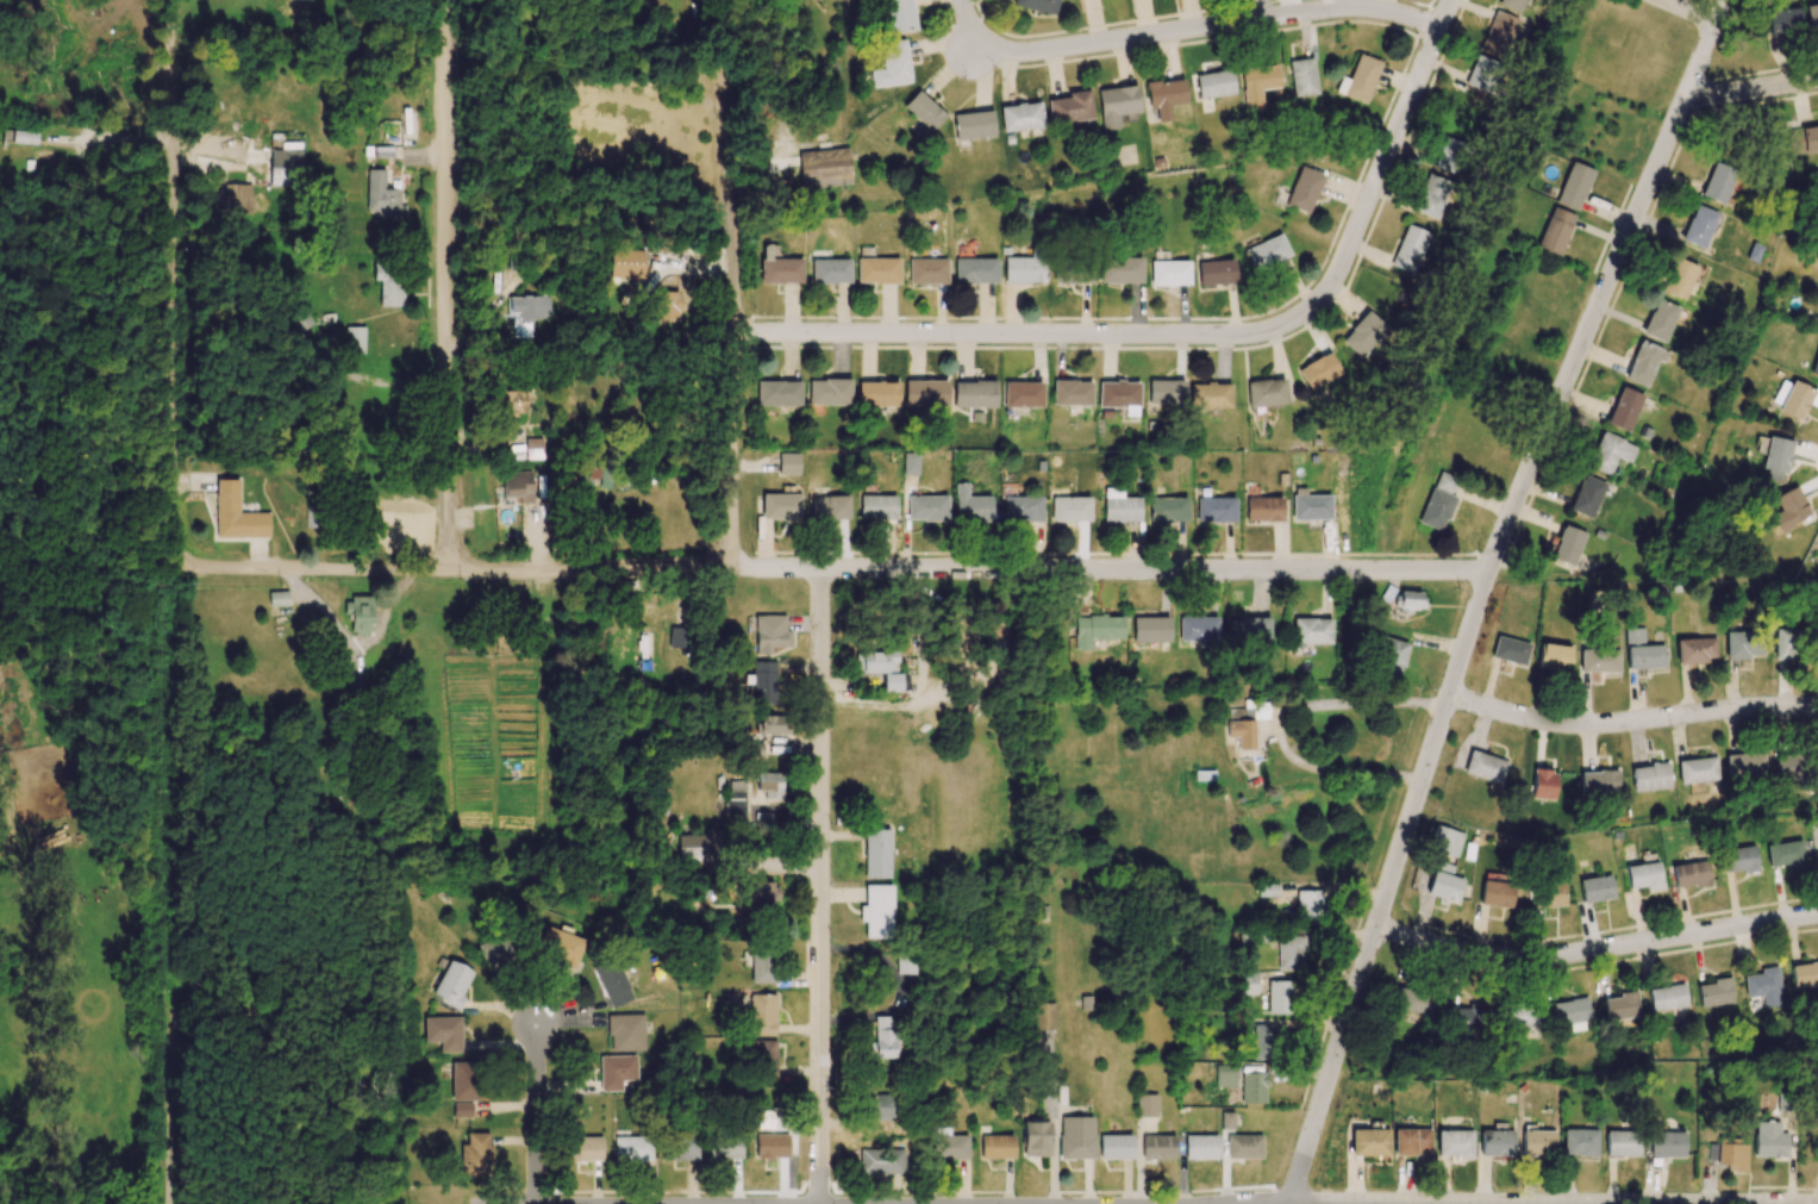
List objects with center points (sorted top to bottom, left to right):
building: (1037, 5)
building: (1511, 5)
road: (1691, 11)
building: (899, 15)
building: (1812, 17)
building: (1785, 20)
road: (1213, 26)
road: (968, 27)
building: (1498, 33)
building: (892, 64)
building: (1482, 75)
building: (1302, 77)
building: (1360, 79)
building: (1214, 83)
building: (1257, 83)
road: (1750, 89)
building: (1164, 94)
building: (1117, 104)
building: (1070, 107)
building: (924, 111)
building: (1020, 117)
building: (973, 125)
building: (24, 137)
building: (1801, 139)
building: (382, 151)
road: (1388, 151)
building: (1445, 155)
building: (286, 167)
building: (824, 168)
building: (1719, 180)
building: (1817, 180)
building: (1574, 186)
building: (1304, 189)
building: (382, 196)
building: (1431, 196)
building: (239, 199)
building: (1699, 226)
building: (1555, 231)
building: (1408, 249)
building: (1267, 251)
building: (625, 263)
building: (777, 267)
building: (1024, 268)
building: (830, 270)
building: (877, 270)
building: (926, 270)
building: (975, 270)
building: (1073, 270)
building: (1120, 270)
building: (1216, 272)
building: (1169, 273)
road: (173, 279)
building: (1679, 279)
road: (733, 283)
building: (389, 285)
road: (442, 285)
building: (666, 305)
building: (526, 313)
building: (1660, 320)
road: (1030, 333)
building: (1362, 333)
building: (356, 339)
building: (1644, 362)
building: (1814, 366)
building: (1318, 370)
building: (829, 392)
building: (1072, 392)
building: (1166, 392)
building: (1266, 392)
building: (777, 393)
building: (877, 393)
building: (925, 393)
building: (974, 394)
building: (1023, 394)
building: (1119, 395)
building: (1210, 395)
building: (1793, 398)
building: (513, 401)
building: (1624, 408)
building: (1610, 453)
building: (1775, 458)
building: (787, 463)
building: (910, 463)
building: (517, 485)
building: (1587, 497)
building: (1438, 501)
building: (970, 505)
building: (1311, 505)
building: (780, 506)
building: (1119, 506)
building: (829, 507)
building: (877, 507)
building: (927, 507)
building: (1022, 509)
building: (1069, 509)
building: (1167, 509)
building: (1263, 509)
building: (1789, 509)
building: (1216, 510)
building: (236, 513)
building: (312, 517)
building: (1568, 545)
road: (831, 569)
road: (1482, 592)
building: (277, 598)
building: (1408, 600)
building: (358, 615)
building: (1197, 628)
building: (1248, 628)
building: (1097, 629)
building: (1150, 629)
building: (1311, 630)
building: (770, 634)
building: (677, 637)
building: (1782, 643)
building: (1741, 644)
building: (1695, 649)
building: (1510, 650)
building: (1642, 650)
building: (1554, 656)
building: (1391, 657)
building: (1599, 660)
building: (876, 661)
building: (763, 681)
building: (891, 682)
building: (1257, 711)
road: (1631, 719)
road: (1282, 722)
building: (769, 724)
building: (1242, 732)
building: (1745, 765)
building: (1485, 766)
building: (1788, 767)
building: (1698, 769)
building: (1650, 776)
building: (1599, 781)
building: (1543, 784)
building: (769, 785)
building: (735, 800)
building: (1445, 841)
building: (691, 847)
building: (876, 854)
building: (1786, 854)
building: (1739, 860)
building: (1691, 874)
building: (1643, 875)
building: (1444, 882)
road: (820, 886)
building: (1595, 888)
building: (1497, 893)
building: (758, 894)
building: (1549, 894)
building: (1308, 906)
building: (876, 911)
building: (560, 944)
road: (1595, 948)
building: (498, 950)
building: (1289, 952)
building: (904, 963)
building: (761, 967)
building: (1805, 974)
building: (612, 982)
building: (452, 984)
building: (1248, 984)
building: (1763, 986)
building: (1714, 992)
building: (1280, 997)
building: (1667, 997)
building: (1413, 1000)
building: (1622, 1006)
building: (761, 1013)
building: (1044, 1016)
building: (1519, 1016)
building: (1470, 1017)
building: (443, 1033)
building: (625, 1033)
building: (881, 1038)
building: (1263, 1042)
building: (763, 1059)
building: (616, 1071)
building: (1225, 1075)
building: (463, 1081)
building: (1252, 1087)
building: (1147, 1105)
building: (880, 1106)
building: (461, 1110)
road: (536, 1111)
building: (764, 1118)
building: (1226, 1121)
building: (1076, 1137)
building: (1036, 1139)
building: (1769, 1140)
building: (1412, 1141)
building: (1369, 1142)
building: (1538, 1142)
building: (1580, 1142)
building: (1454, 1143)
building: (1495, 1143)
building: (1622, 1143)
building: (950, 1144)
building: (1666, 1144)
building: (771, 1146)
building: (1243, 1146)
building: (725, 1147)
building: (997, 1147)
building: (1114, 1147)
building: (1157, 1147)
building: (1200, 1147)
building: (583, 1148)
building: (632, 1148)
building: (681, 1148)
building: (475, 1154)
building: (1728, 1155)
building: (881, 1161)
road: (1504, 1203)

